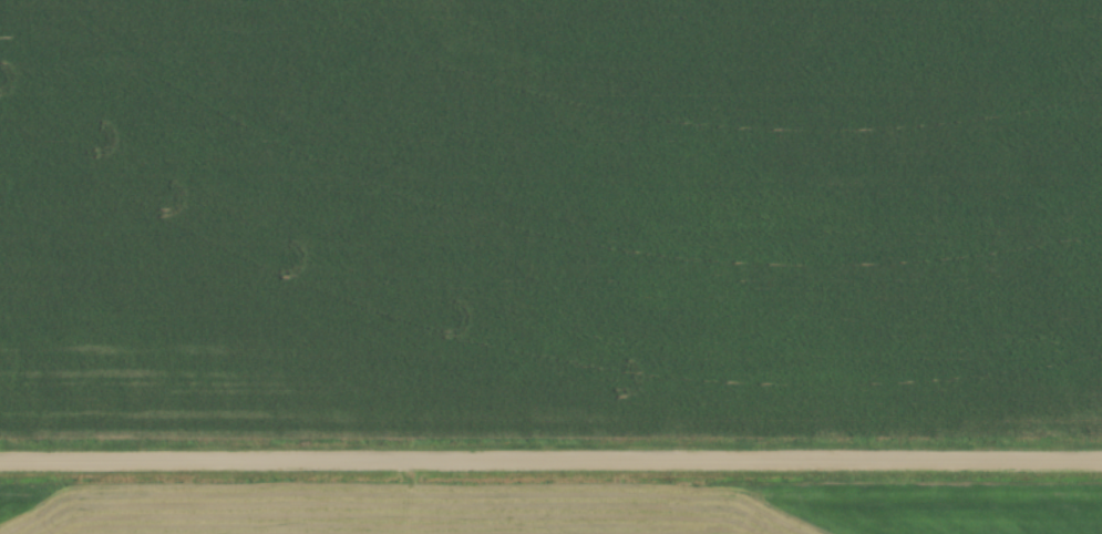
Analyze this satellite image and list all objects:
road: (550, 462)

